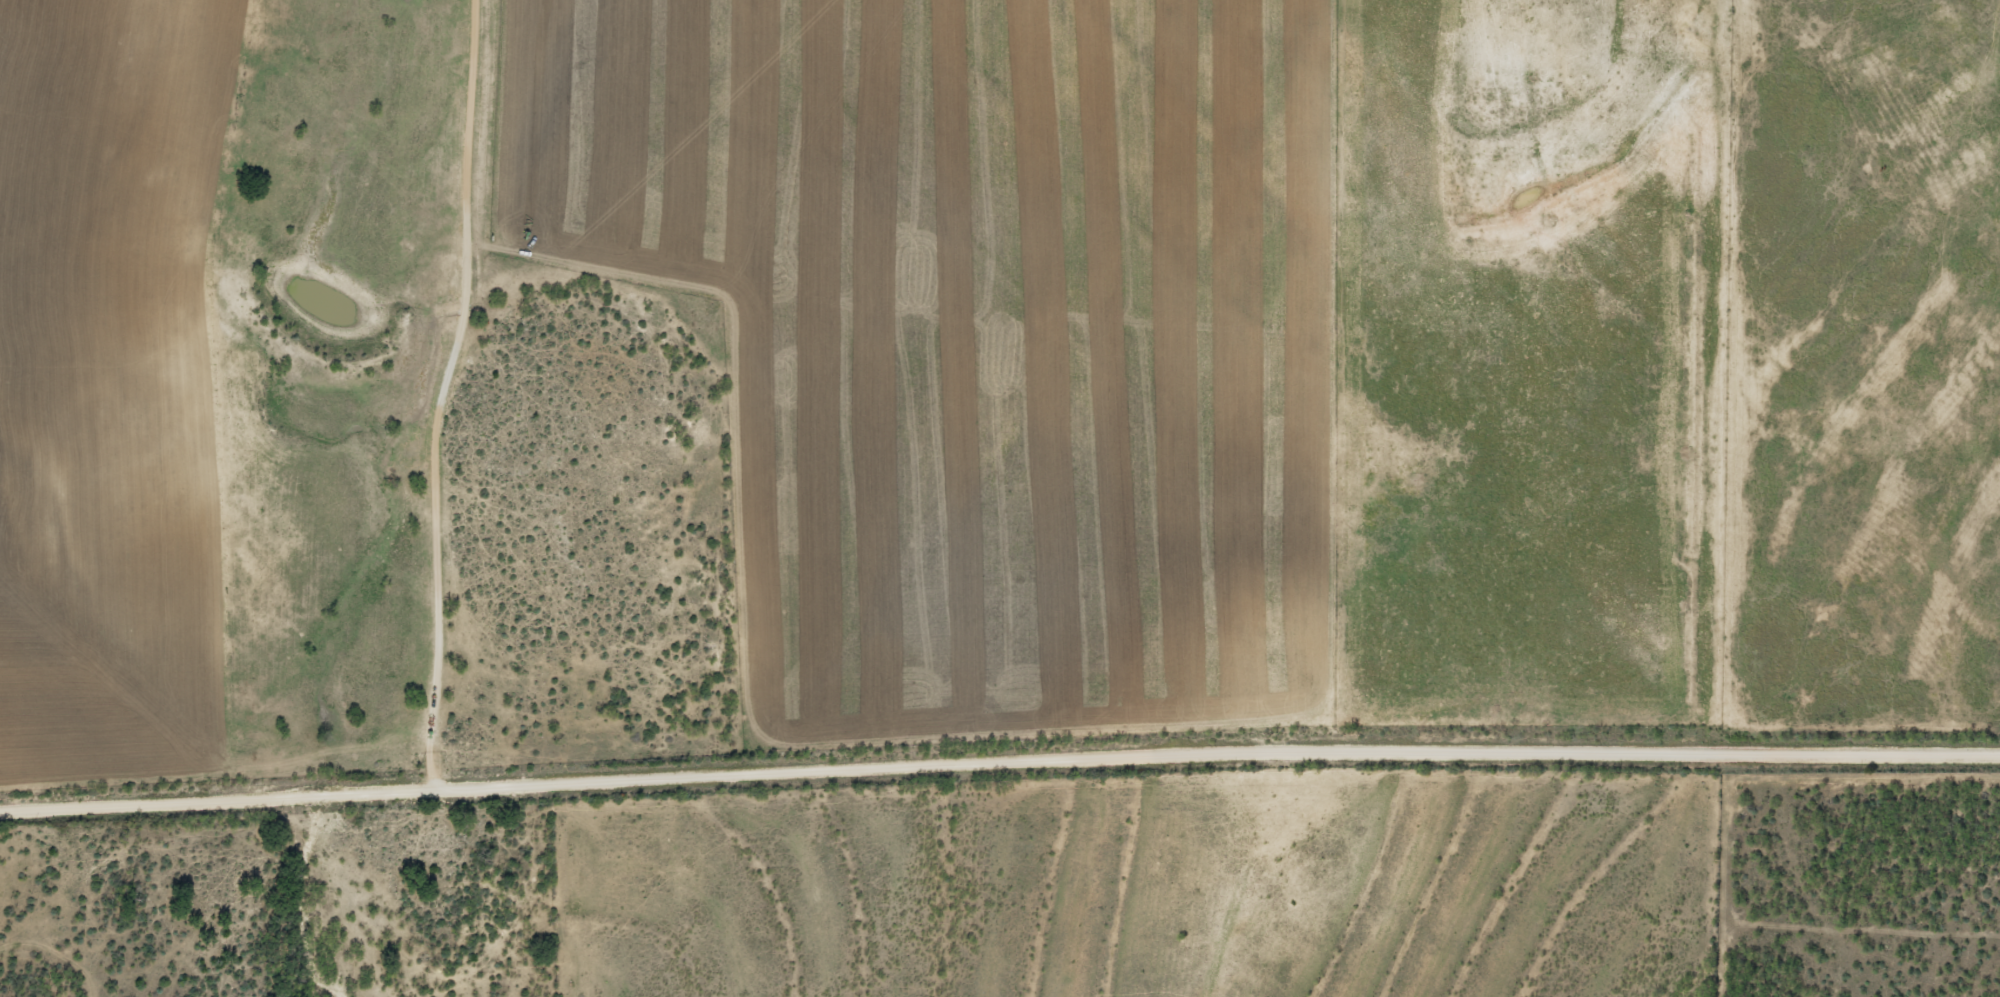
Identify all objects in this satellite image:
road: (447, 395)
road: (999, 763)

